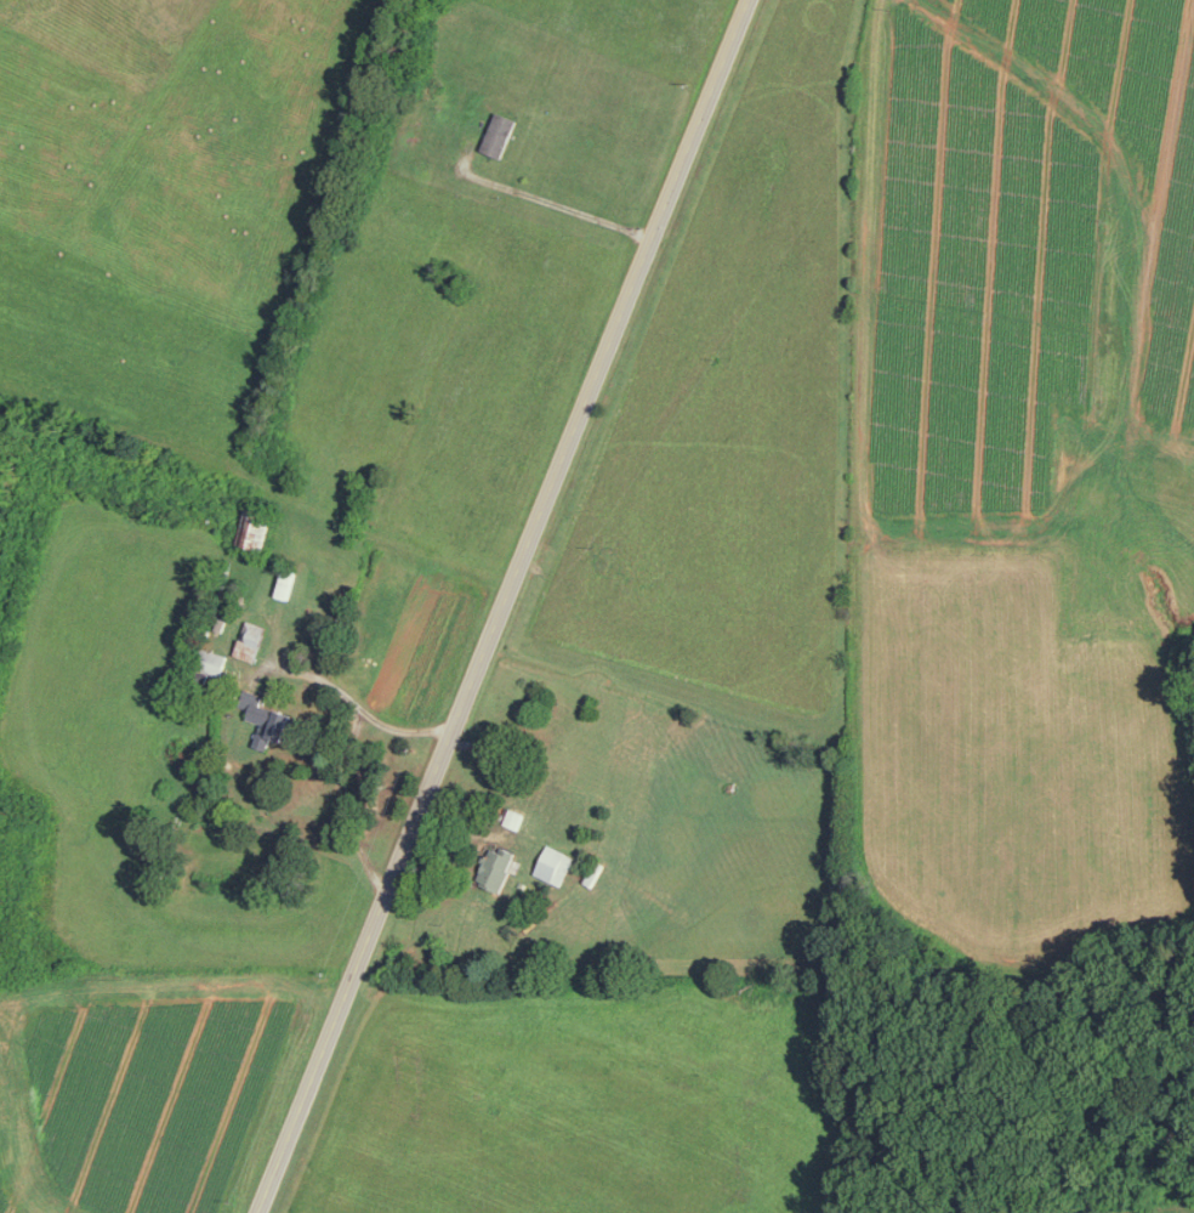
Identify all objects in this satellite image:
building: (500, 132)
crop: (166, 202)
road: (556, 202)
building: (258, 526)
road: (504, 606)
building: (252, 640)
building: (212, 659)
road: (373, 713)
building: (268, 718)
road: (345, 804)
building: (556, 863)
building: (499, 866)

